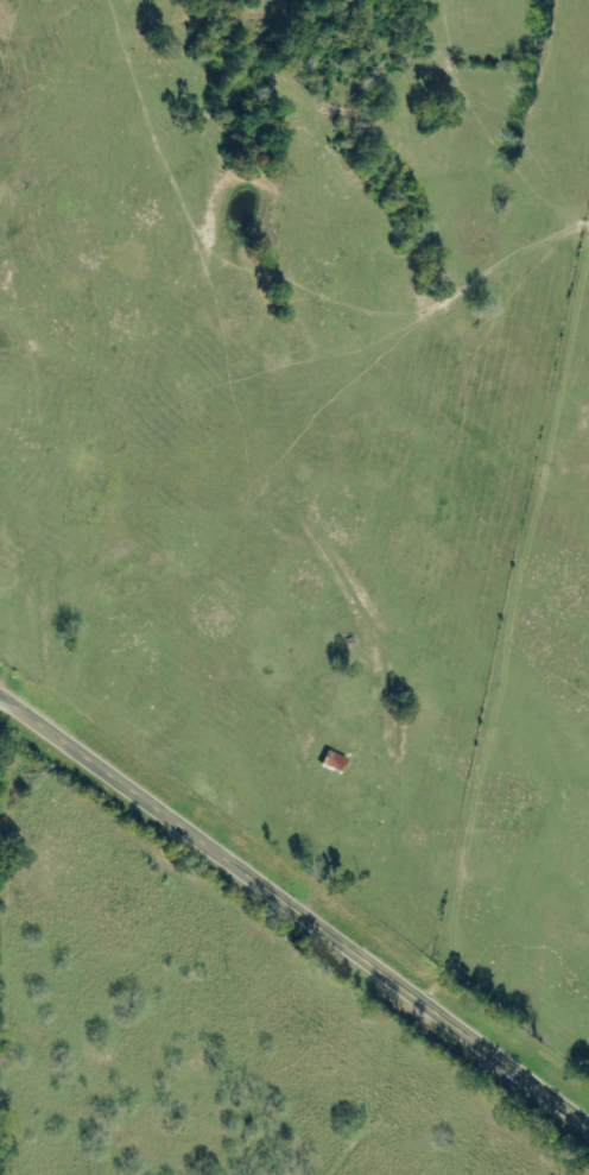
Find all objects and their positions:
building: (334, 760)
road: (296, 897)

